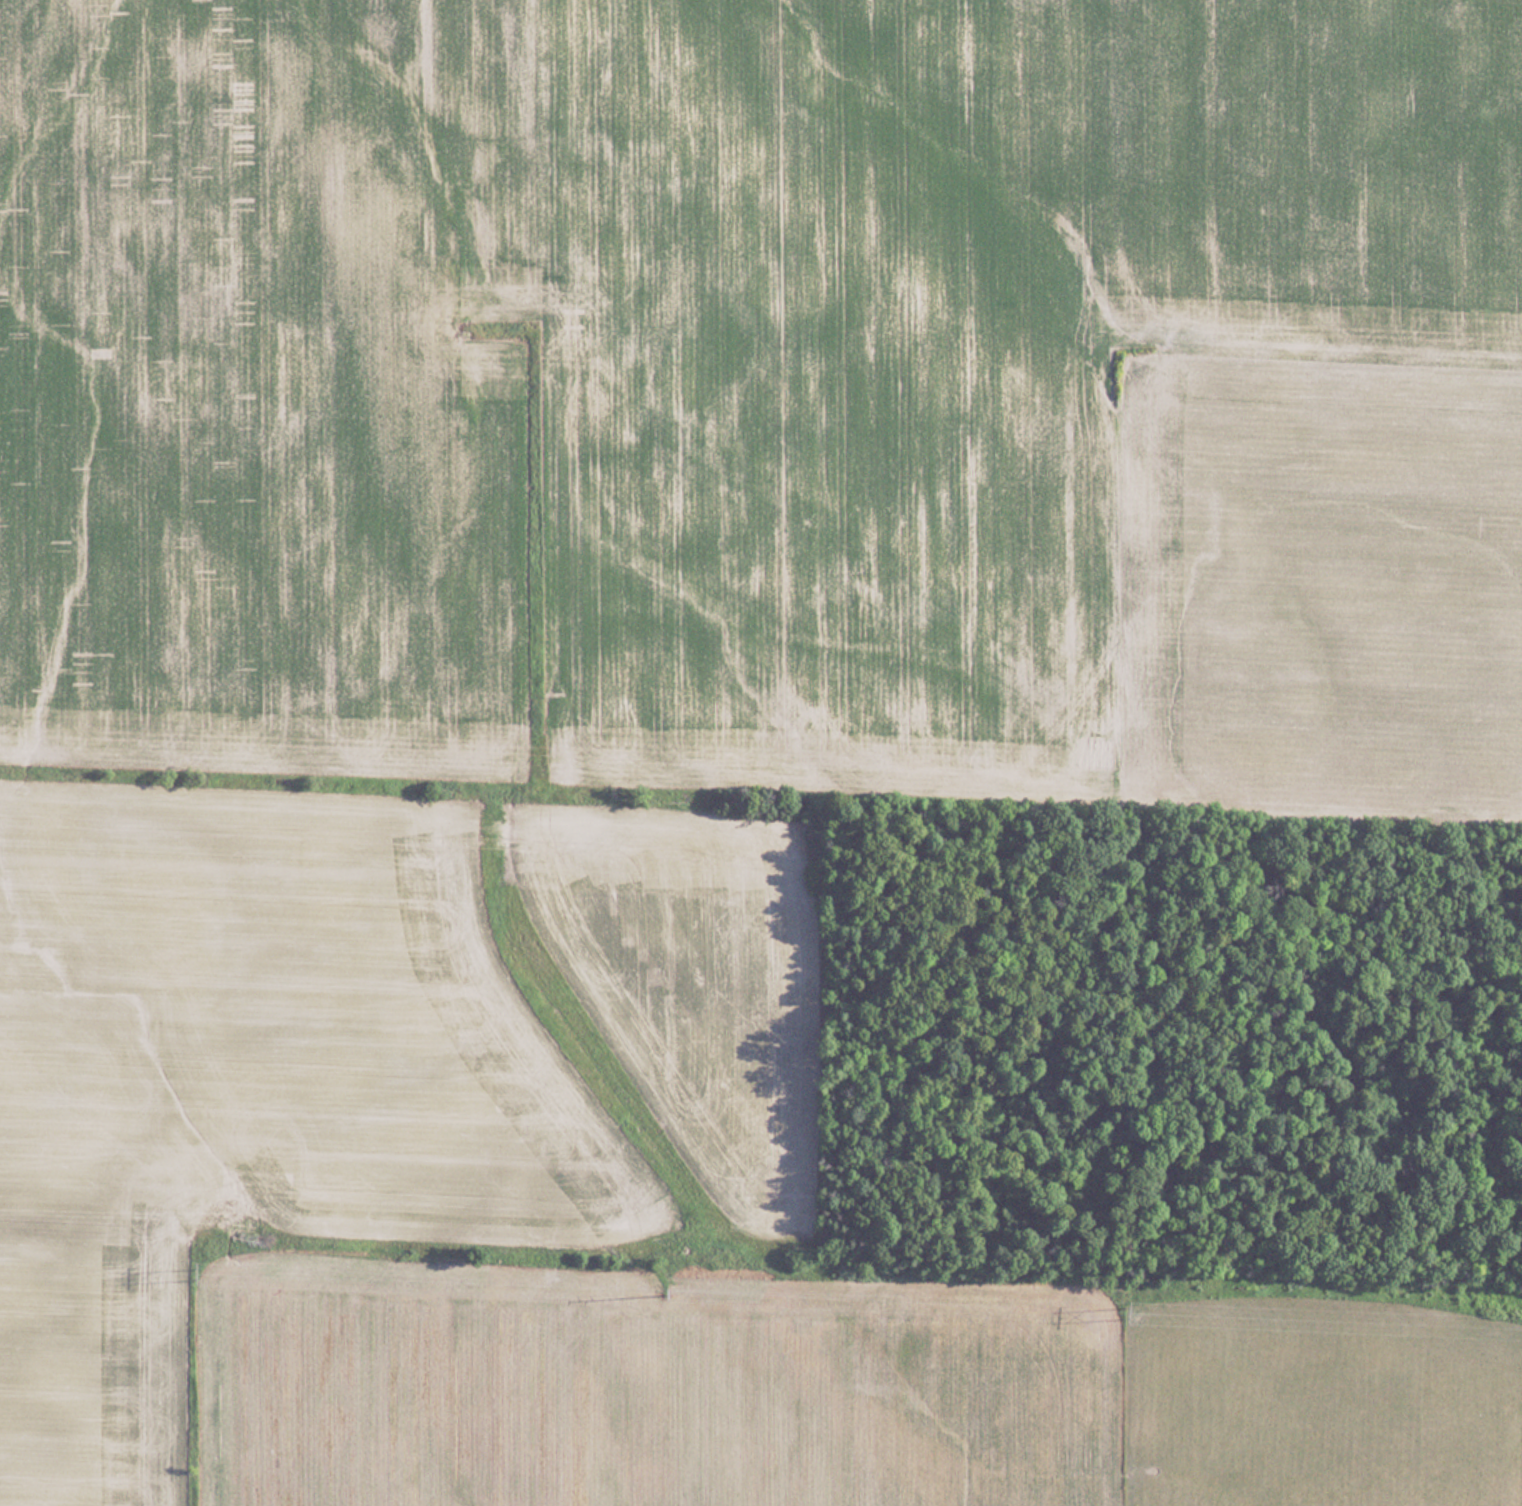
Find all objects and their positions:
power tower: (198, 1271)
power tower: (664, 1290)
power tower: (1125, 1309)

